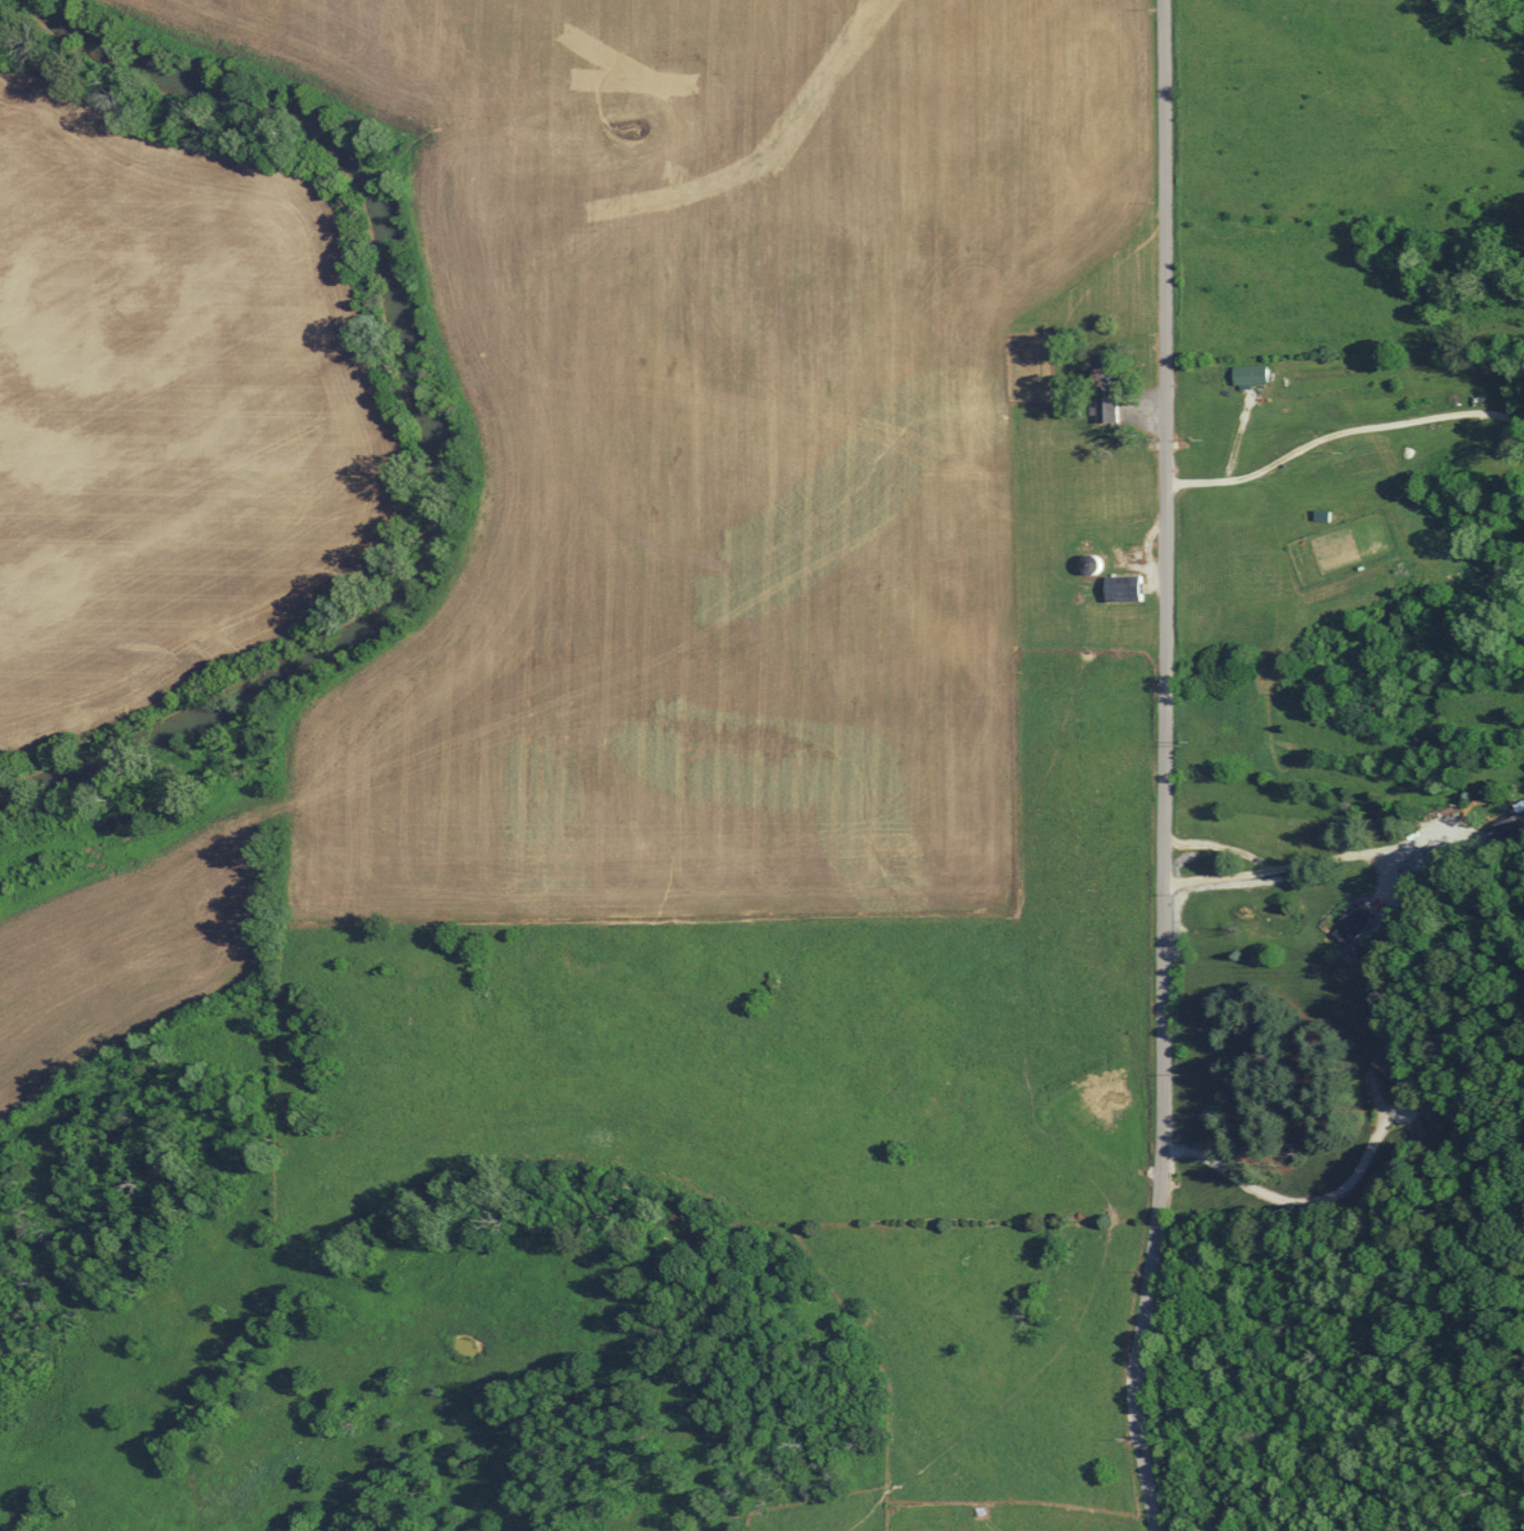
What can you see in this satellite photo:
building: (1103, 394)
river: (462, 422)
building: (1119, 587)
road: (1164, 767)
road: (1300, 865)
building: (1414, 870)
road: (1380, 879)
building: (1354, 923)
building: (1387, 1062)

